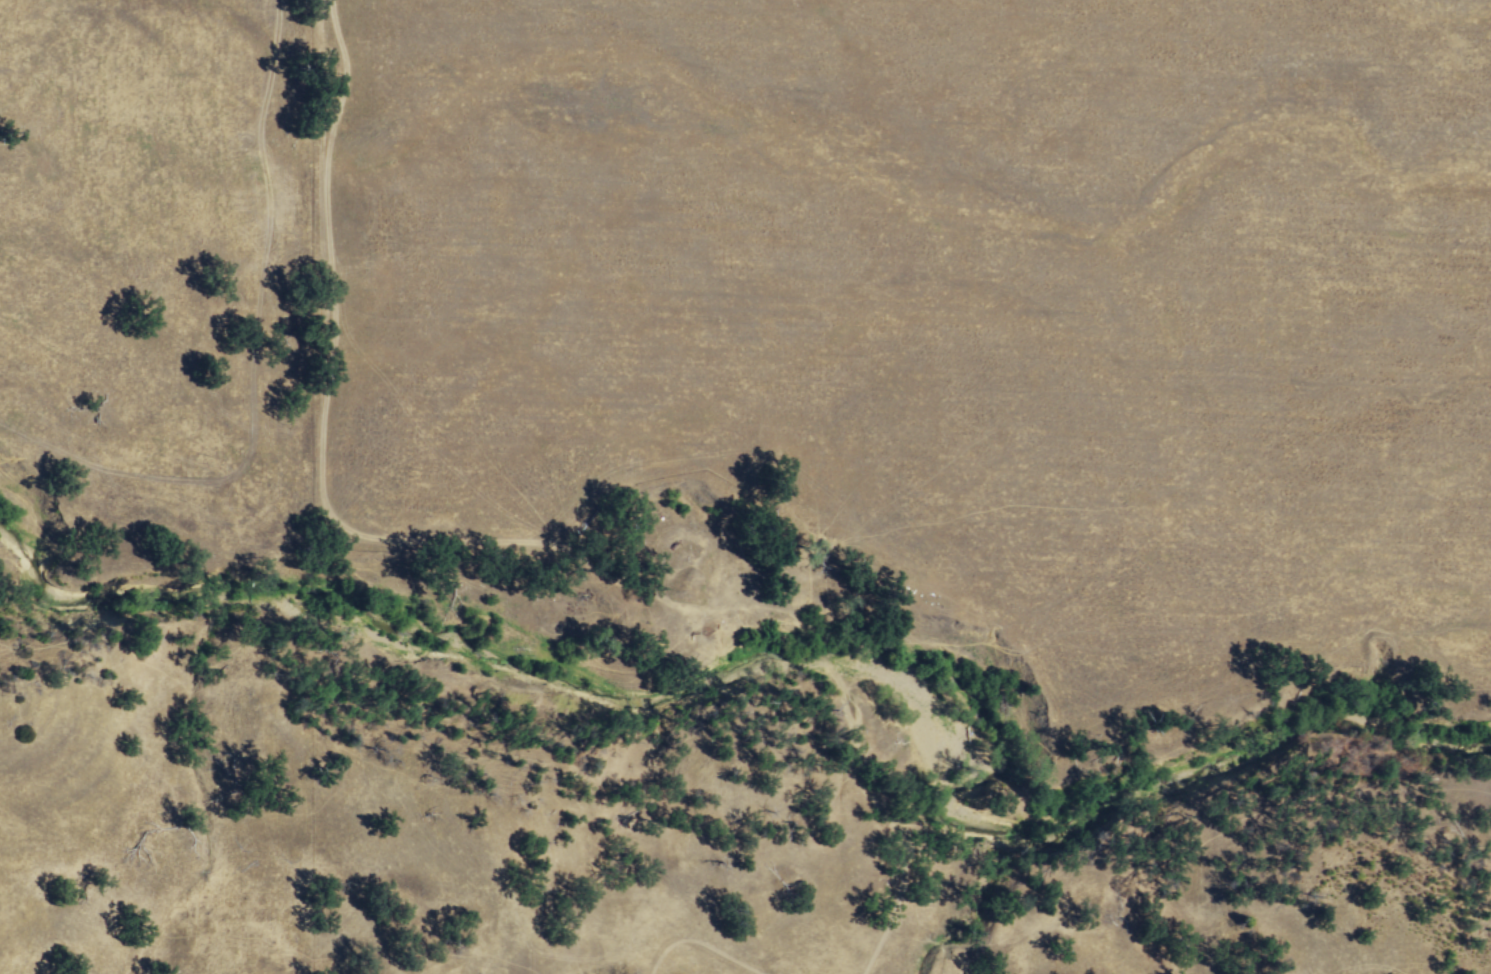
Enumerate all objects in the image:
river: (579, 687)
river: (1241, 764)

